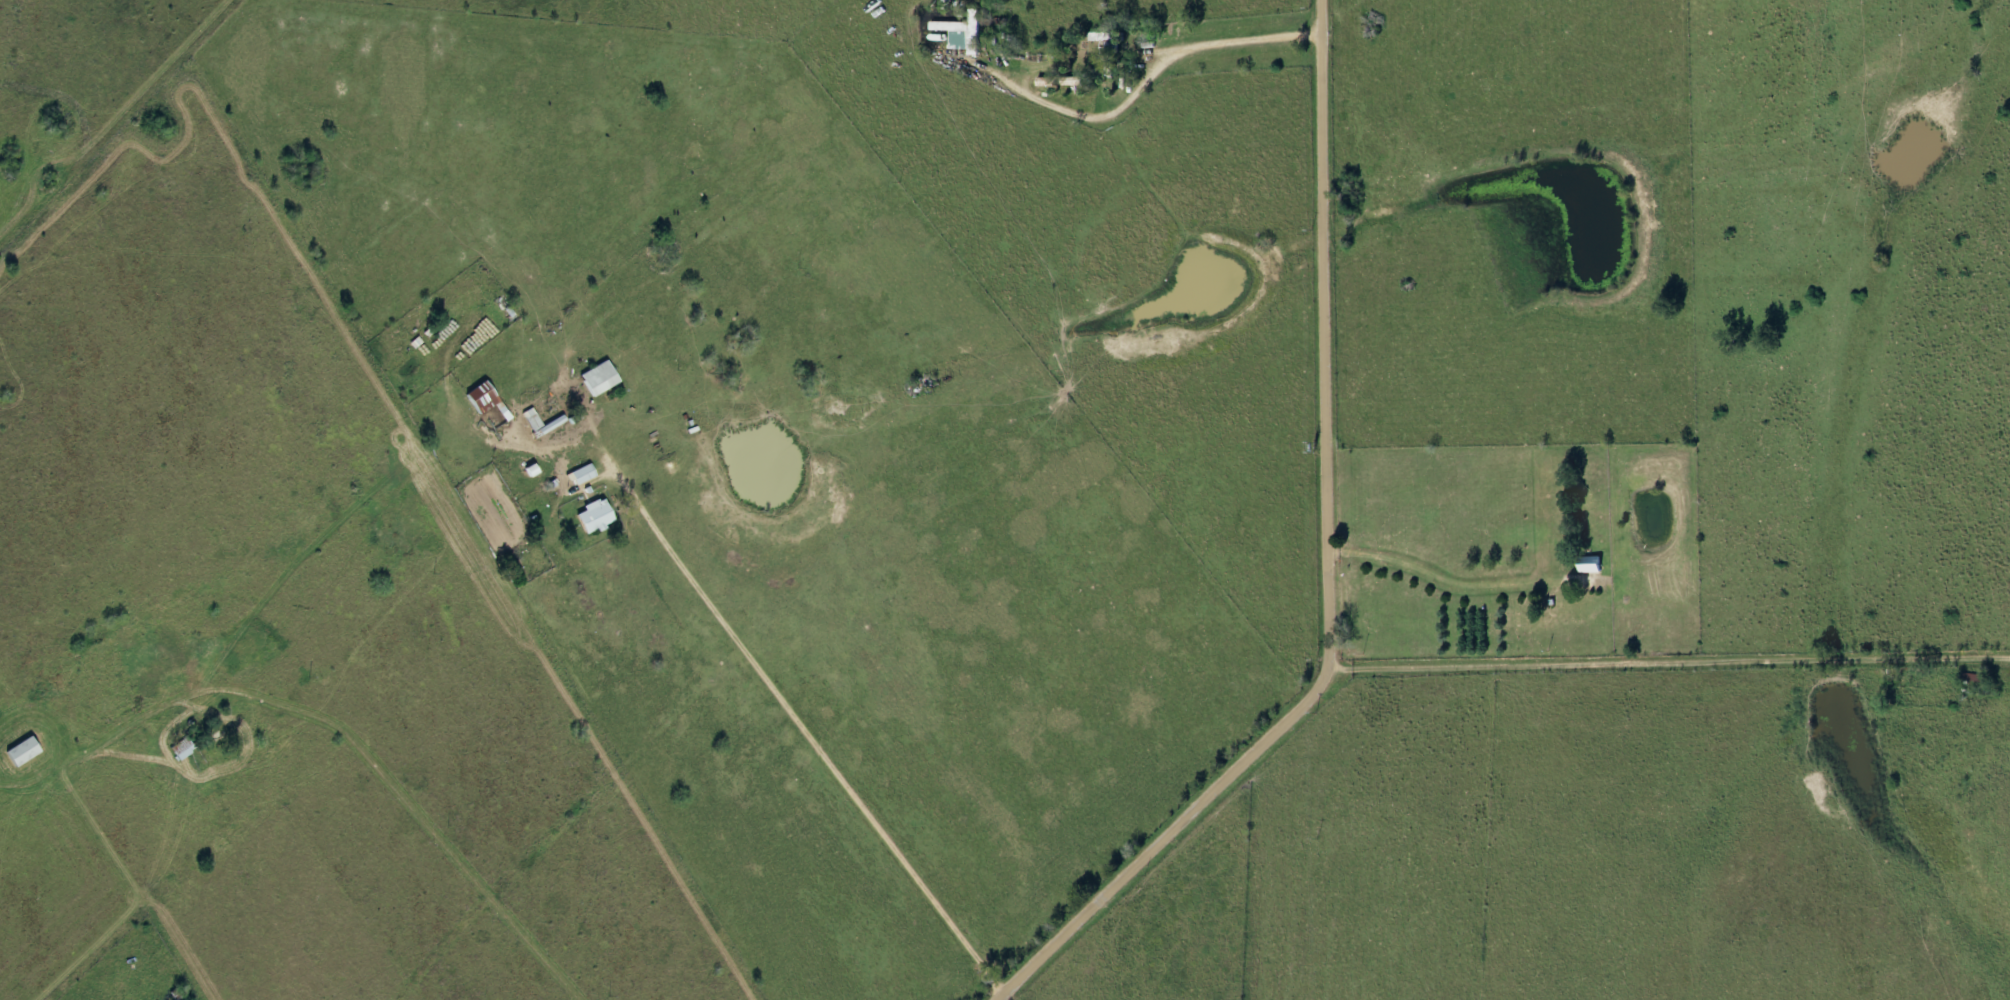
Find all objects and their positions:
building: (962, 33)
building: (1106, 40)
road: (1230, 46)
building: (1060, 81)
building: (598, 377)
building: (480, 397)
building: (530, 419)
building: (581, 473)
building: (593, 515)
building: (1590, 565)
road: (1334, 573)
road: (1673, 664)
road: (803, 724)
road: (359, 745)
building: (180, 748)
building: (21, 751)

